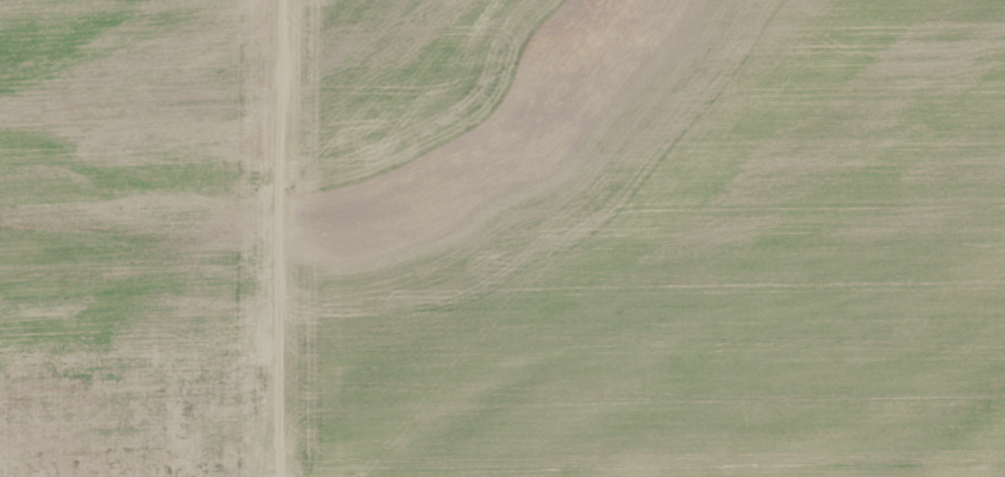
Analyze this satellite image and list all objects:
crop: (195, 232)
road: (271, 238)

